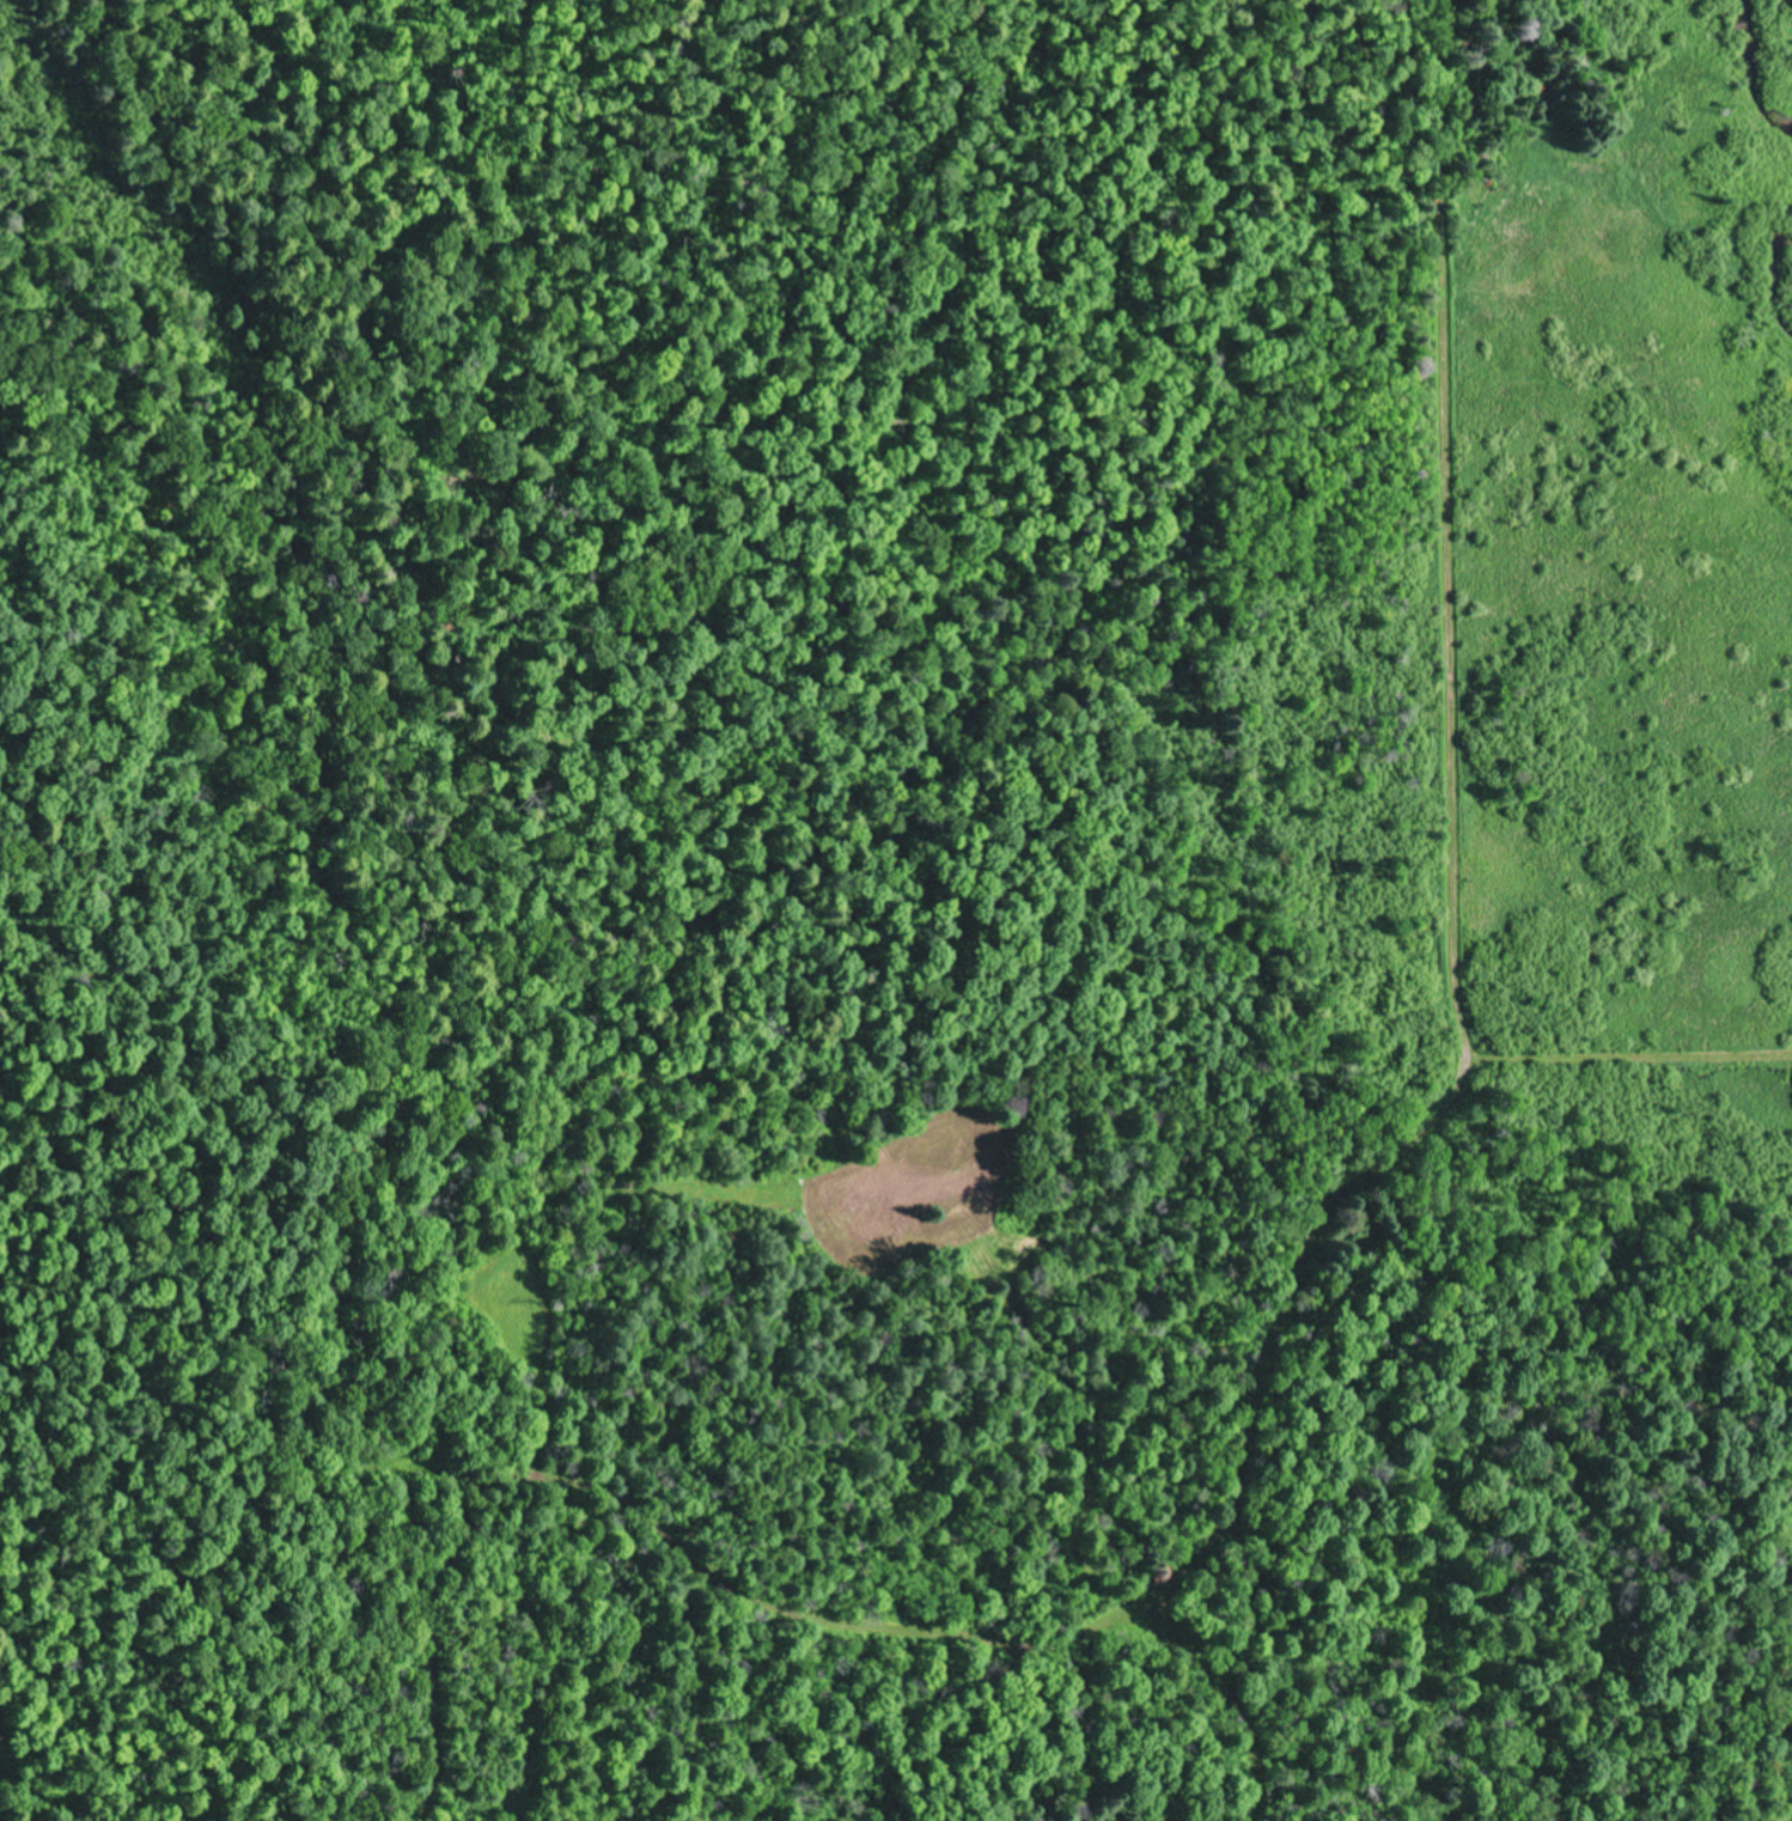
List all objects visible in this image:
road: (1443, 712)

